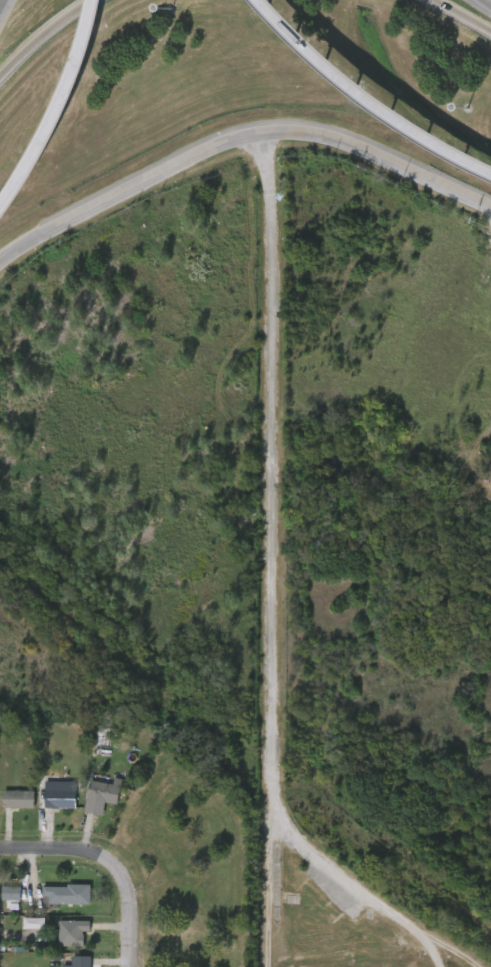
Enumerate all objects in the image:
road: (488, 1)
road: (462, 15)
road: (41, 33)
road: (364, 99)
road: (59, 111)
road: (235, 137)
road: (267, 549)
building: (61, 794)
building: (103, 794)
building: (20, 798)
building: (47, 802)
building: (89, 803)
building: (10, 806)
road: (49, 850)
road: (350, 888)
building: (68, 895)
building: (3, 900)
building: (52, 902)
road: (127, 904)
building: (20, 930)
building: (74, 932)
building: (59, 940)
road: (442, 955)
building: (82, 961)
building: (68, 965)

